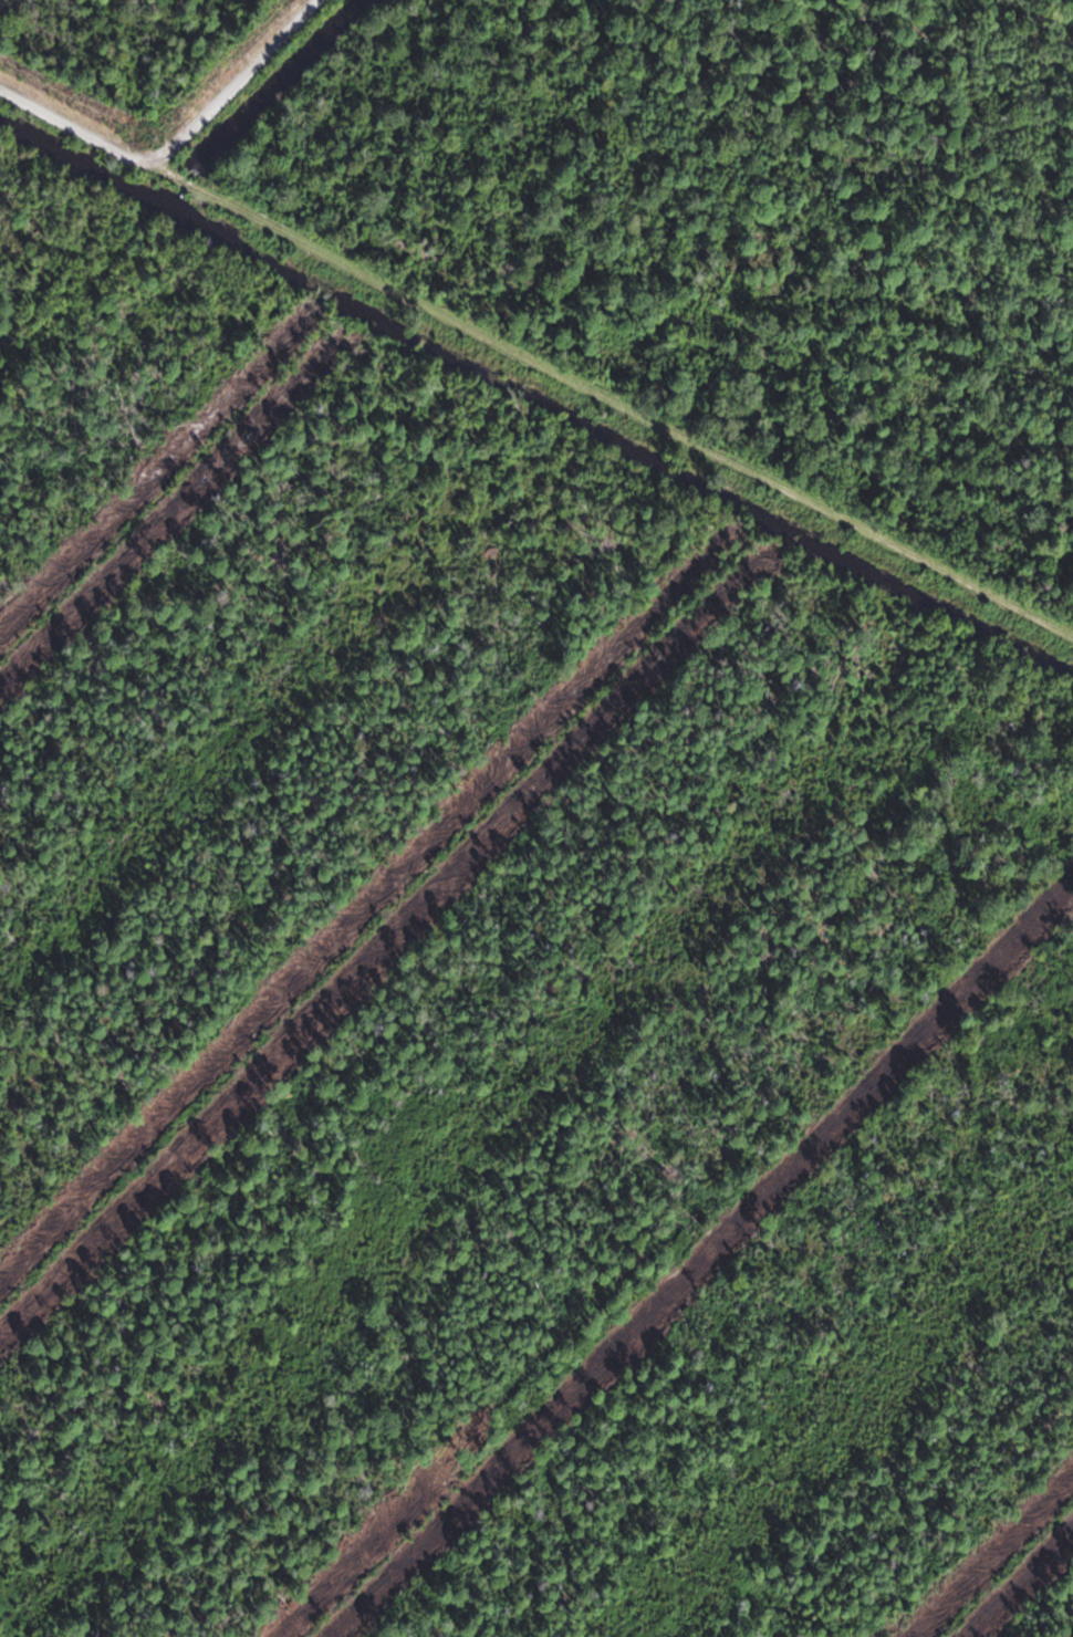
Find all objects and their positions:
road: (230, 85)
road: (73, 132)
road: (169, 185)
road: (632, 423)

